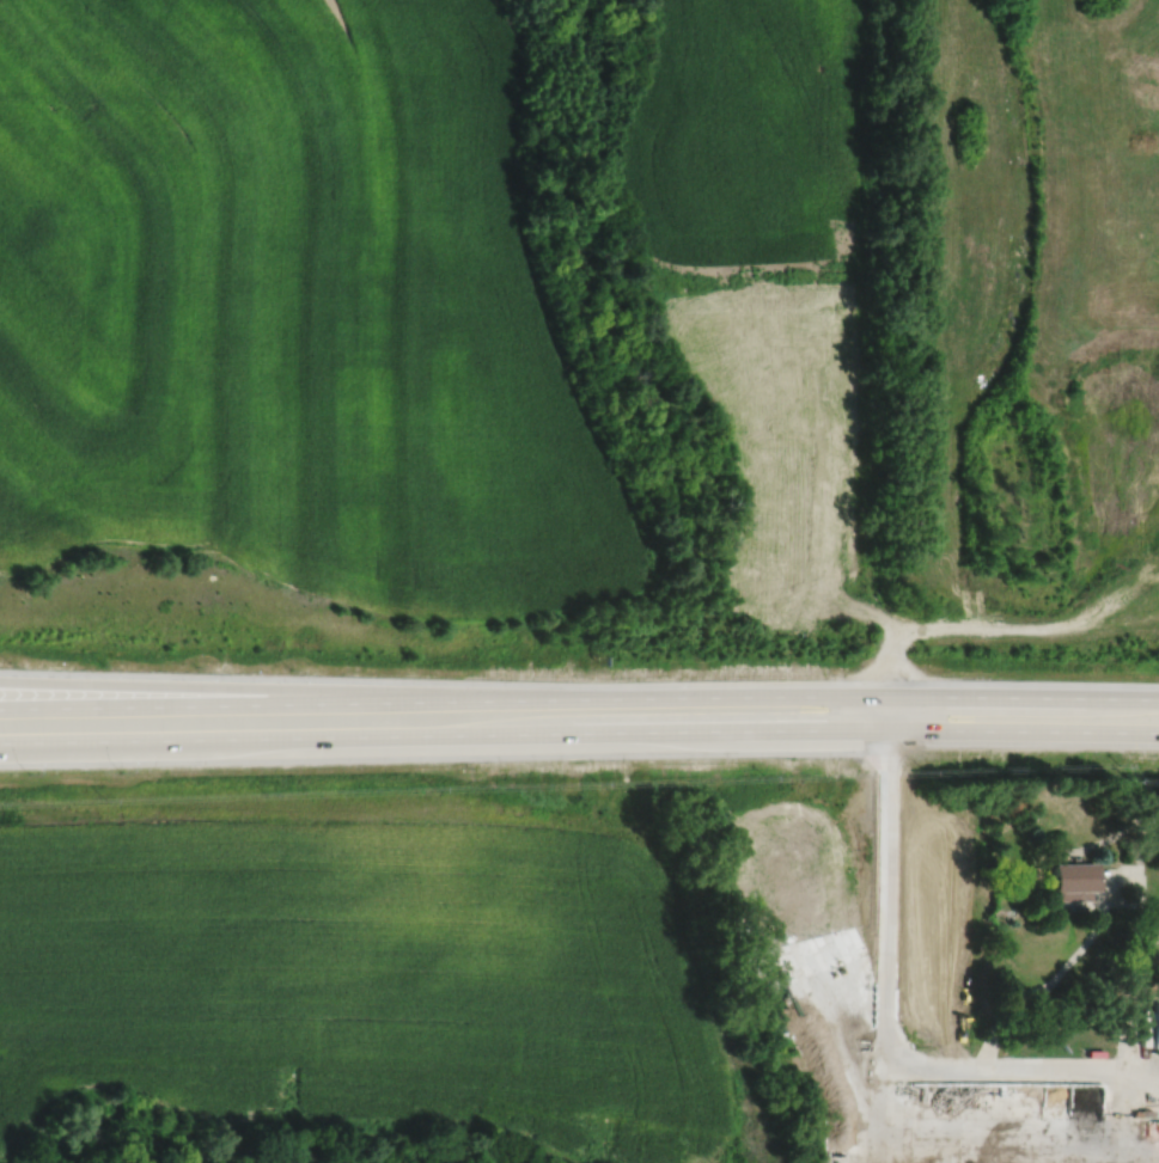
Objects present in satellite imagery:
crop: (764, 268)
crop: (287, 308)
road: (1001, 626)
street lamp: (8, 661)
street lamp: (103, 665)
street lamp: (197, 666)
street lamp: (291, 667)
road: (294, 690)
road: (738, 697)
road: (993, 697)
road: (1128, 698)
road: (294, 703)
road: (887, 712)
road: (803, 729)
road: (1023, 730)
road: (633, 732)
road: (439, 735)
road: (165, 740)
road: (92, 743)
street lamp: (121, 770)
street lamp: (29, 772)
building: (1070, 881)
road: (887, 883)
road: (1045, 988)
crop: (425, 998)
building: (1155, 1029)
road: (1015, 1067)

